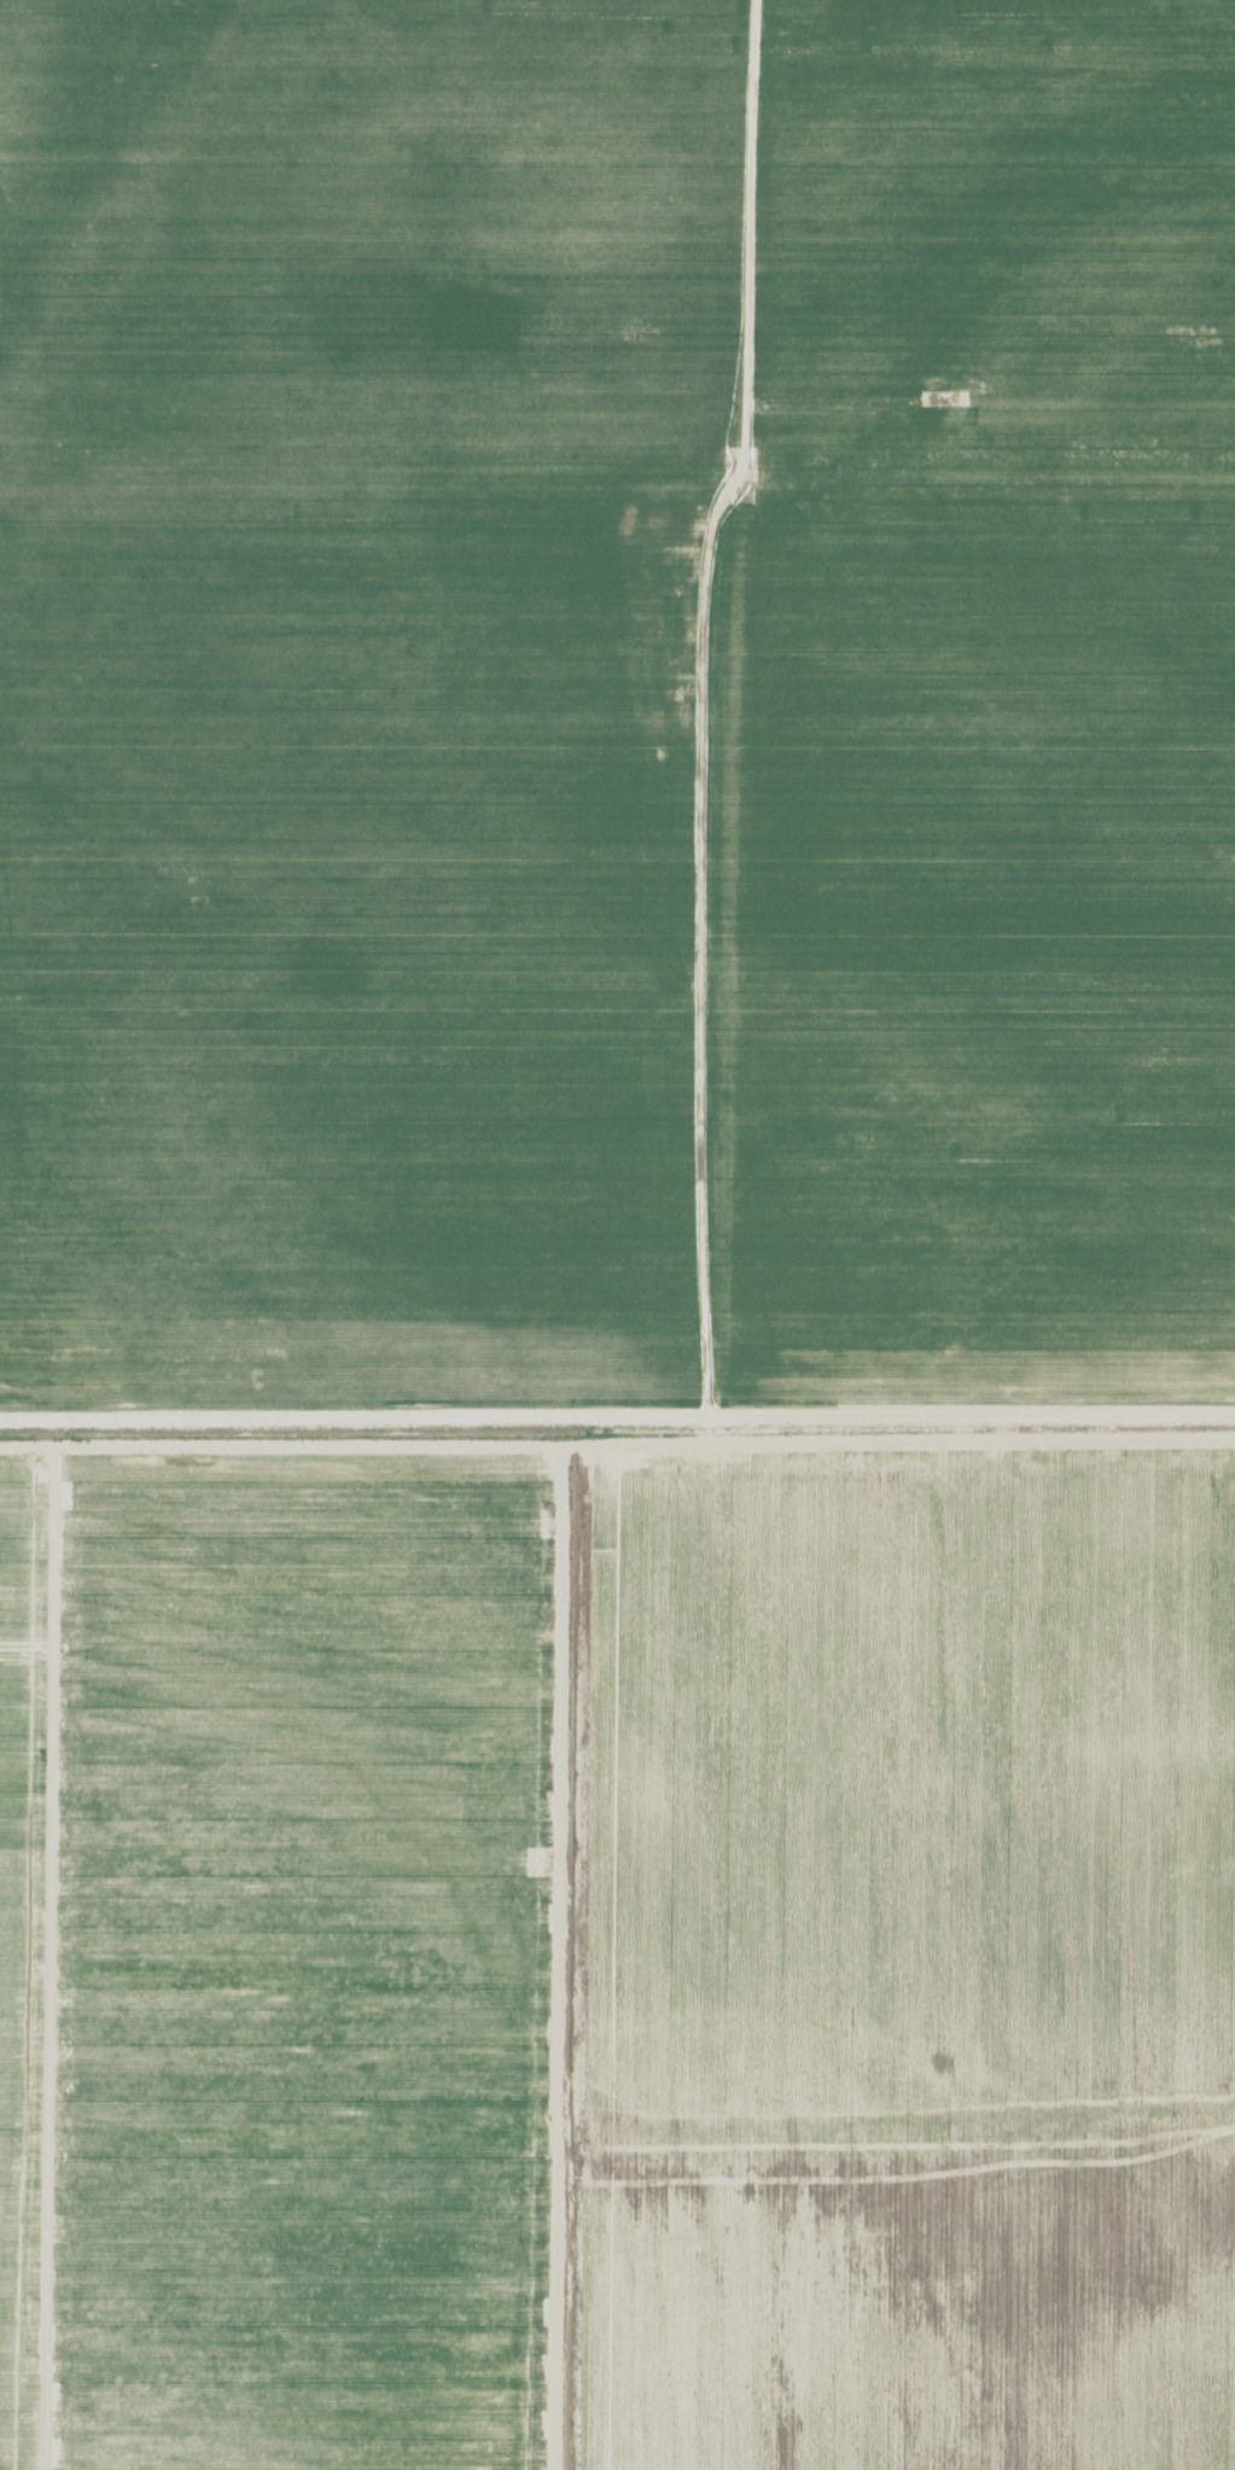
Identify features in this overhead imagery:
road: (617, 477)
road: (733, 728)
road: (617, 1456)
road: (43, 1956)

